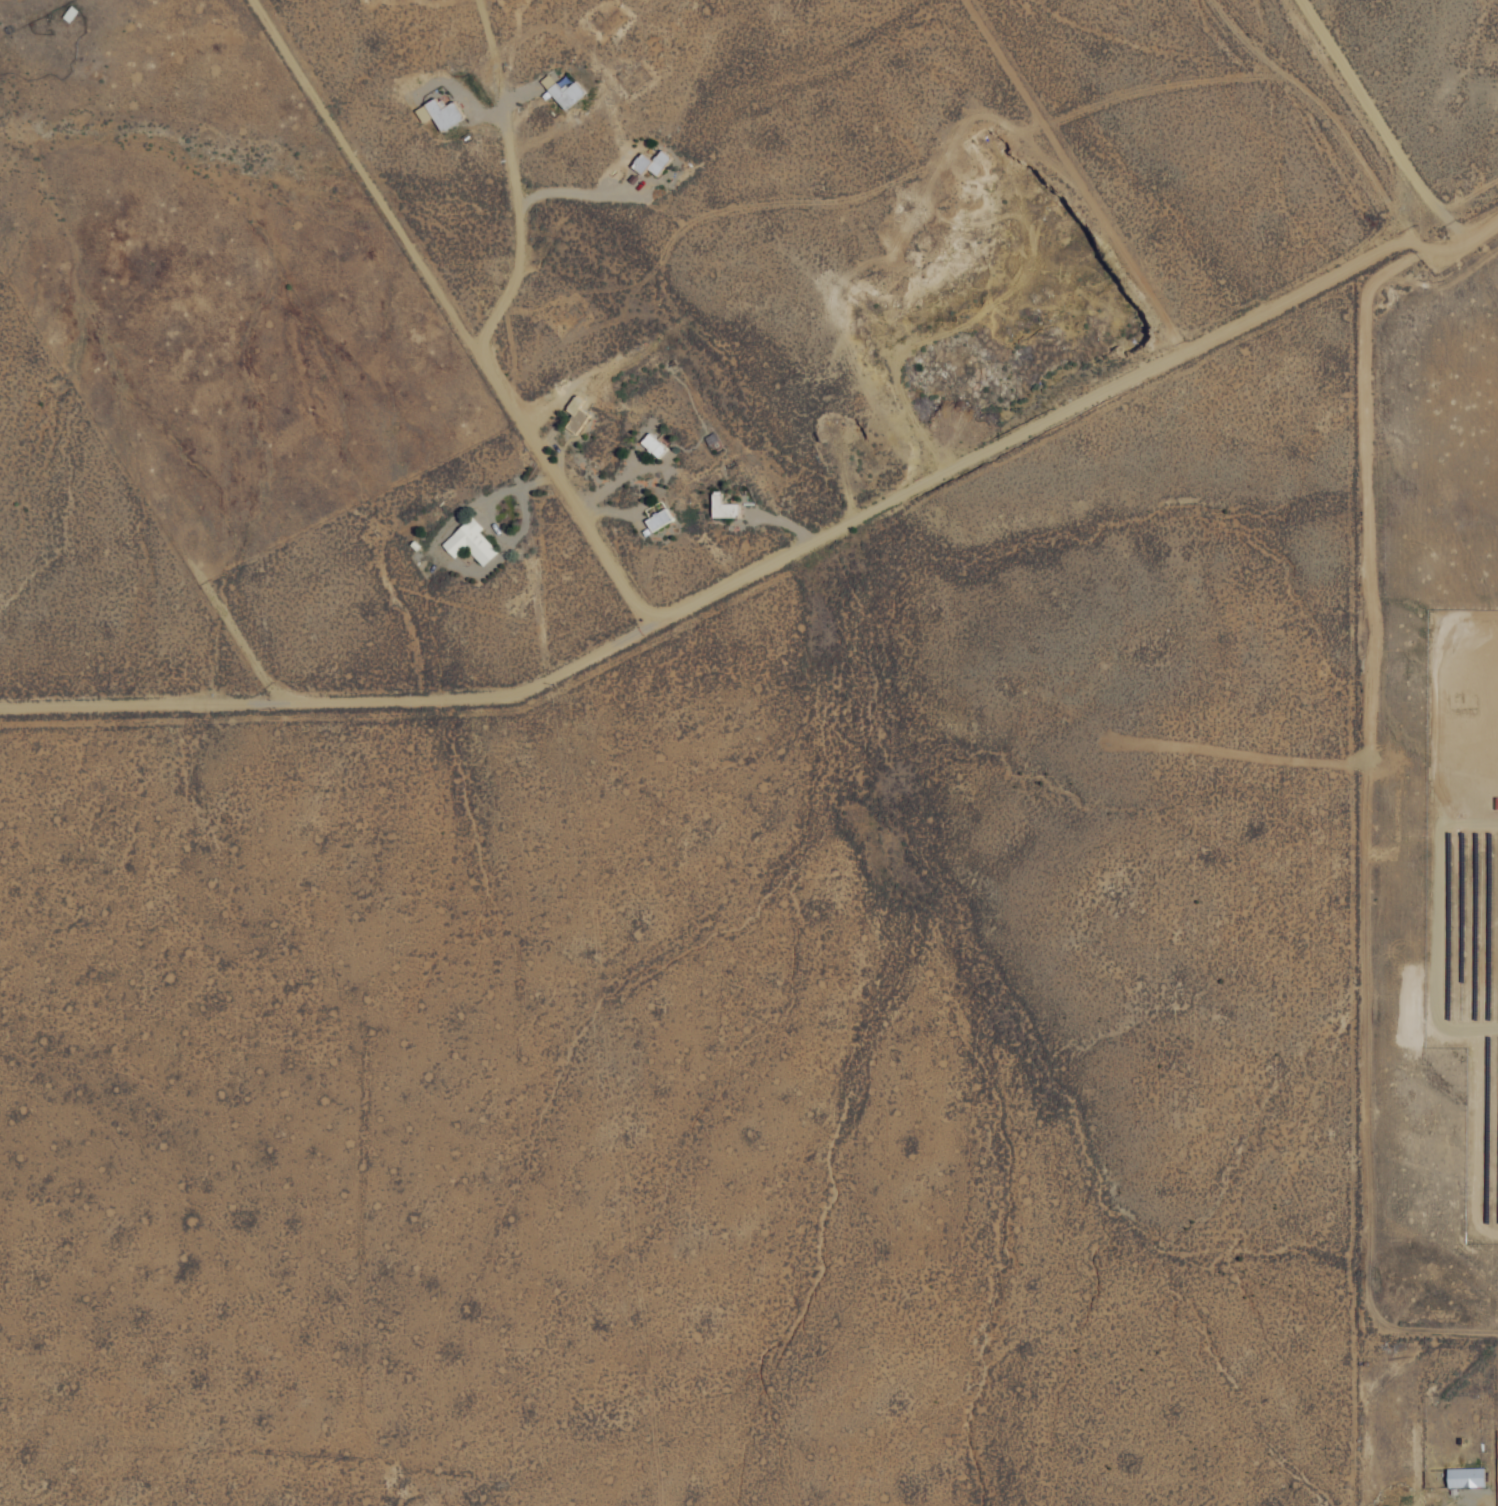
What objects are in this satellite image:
building: (565, 92)
building: (438, 113)
road: (1380, 120)
building: (649, 161)
road: (512, 177)
road: (1481, 226)
road: (449, 312)
road: (1057, 413)
building: (651, 444)
building: (720, 506)
building: (656, 518)
building: (468, 541)
road: (334, 697)
road: (1369, 729)
solar farm: (1464, 877)
building: (1464, 1477)

